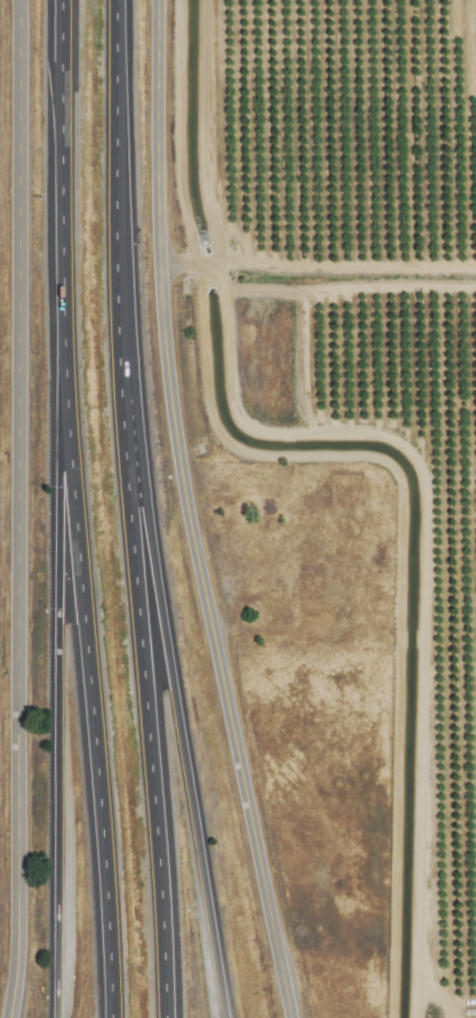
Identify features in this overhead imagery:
road: (60, 199)
road: (12, 509)
road: (127, 509)
road: (182, 513)
road: (168, 671)
road: (55, 707)
road: (91, 707)

